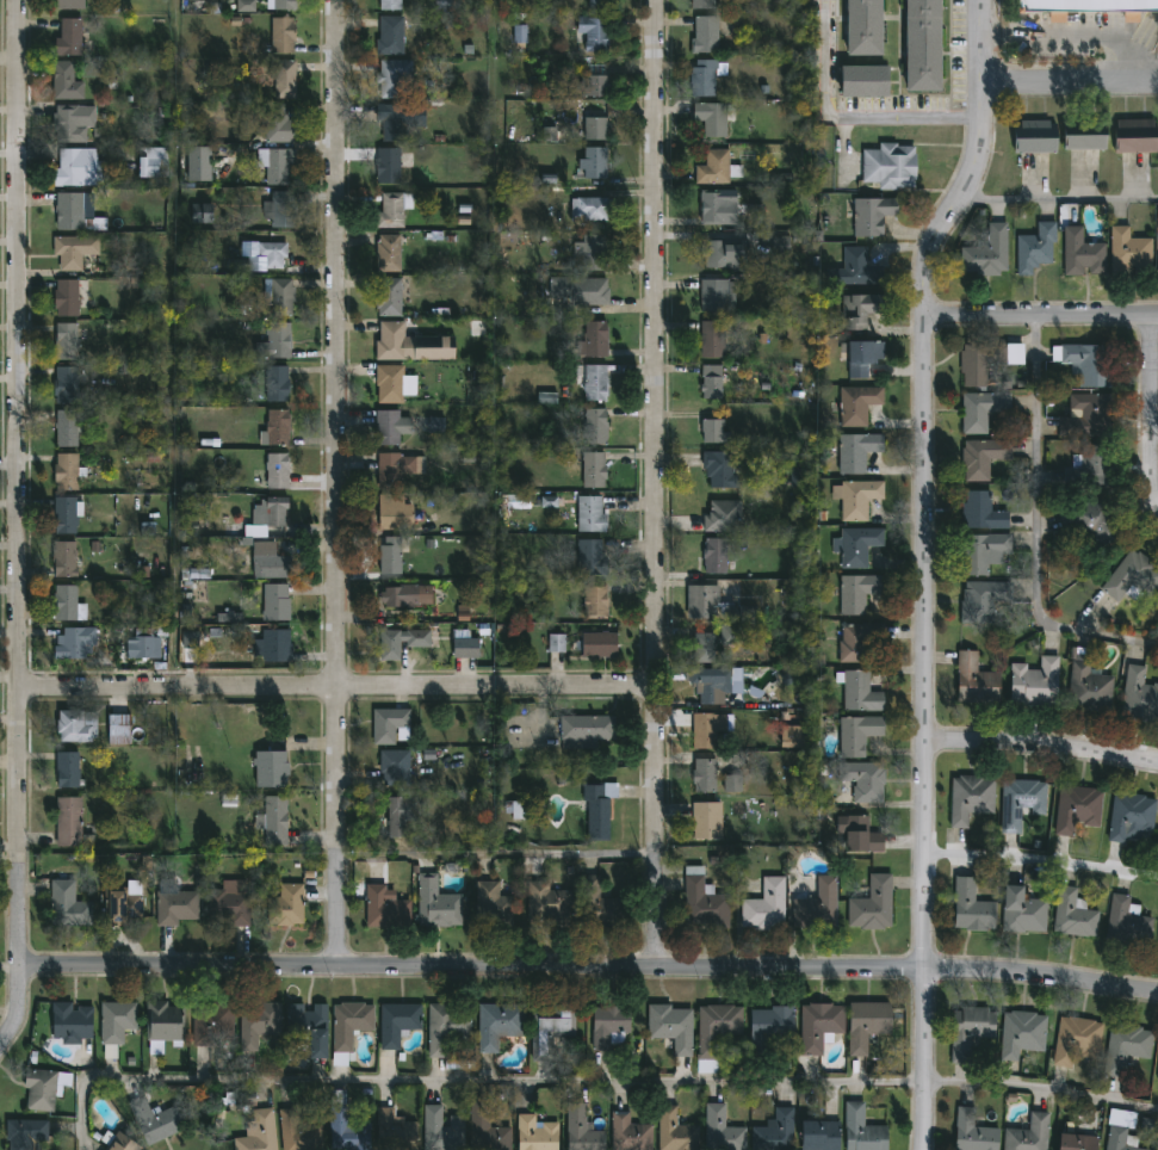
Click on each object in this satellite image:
building: (446, 4)
building: (593, 4)
building: (74, 5)
building: (284, 5)
building: (394, 5)
building: (603, 5)
building: (706, 5)
building: (1091, 5)
building: (246, 6)
building: (856, 27)
building: (597, 33)
building: (520, 35)
building: (708, 35)
building: (284, 36)
road: (1078, 36)
building: (394, 37)
building: (73, 38)
building: (917, 47)
building: (705, 76)
building: (286, 79)
building: (396, 79)
building: (68, 81)
building: (599, 81)
building: (859, 84)
road: (1070, 85)
road: (848, 112)
building: (711, 116)
building: (400, 120)
building: (73, 124)
building: (278, 124)
building: (600, 126)
building: (549, 134)
building: (1079, 134)
building: (1030, 135)
building: (1131, 135)
building: (155, 161)
building: (596, 162)
building: (279, 163)
building: (203, 165)
building: (391, 165)
building: (886, 165)
building: (81, 167)
building: (714, 167)
road: (1059, 198)
building: (286, 206)
building: (595, 206)
building: (714, 206)
building: (396, 209)
building: (74, 210)
building: (202, 212)
building: (869, 214)
building: (781, 246)
building: (1033, 247)
building: (76, 249)
building: (391, 252)
building: (592, 252)
building: (723, 252)
building: (1079, 252)
building: (1127, 252)
building: (275, 253)
building: (985, 253)
building: (1157, 261)
building: (853, 268)
building: (584, 290)
building: (717, 293)
building: (284, 296)
building: (392, 296)
building: (68, 297)
building: (856, 308)
road: (1041, 316)
building: (716, 338)
building: (280, 339)
building: (596, 339)
building: (69, 340)
building: (414, 344)
building: (859, 357)
building: (981, 360)
building: (1085, 361)
building: (594, 379)
building: (716, 381)
building: (279, 383)
building: (397, 383)
building: (68, 384)
building: (855, 403)
building: (978, 409)
building: (1084, 415)
road: (1151, 418)
building: (436, 426)
building: (597, 426)
building: (72, 427)
building: (280, 427)
building: (391, 427)
road: (1154, 427)
building: (710, 429)
building: (854, 450)
building: (979, 457)
building: (1091, 463)
building: (280, 469)
building: (397, 469)
building: (596, 469)
building: (716, 469)
building: (69, 471)
road: (342, 482)
road: (651, 483)
building: (856, 497)
building: (519, 501)
building: (549, 501)
building: (979, 511)
building: (398, 512)
building: (594, 513)
building: (69, 514)
building: (271, 514)
building: (723, 517)
building: (1088, 523)
road: (17, 524)
road: (1035, 528)
building: (853, 544)
building: (980, 551)
building: (394, 555)
building: (712, 555)
building: (593, 556)
building: (67, 558)
building: (271, 561)
road: (925, 567)
building: (1131, 576)
building: (855, 592)
building: (410, 594)
building: (980, 600)
building: (272, 601)
building: (599, 601)
building: (710, 601)
building: (70, 604)
building: (730, 636)
building: (856, 639)
building: (76, 642)
building: (421, 643)
building: (557, 643)
building: (603, 644)
building: (275, 645)
building: (147, 647)
building: (469, 647)
building: (707, 648)
building: (972, 680)
building: (1033, 682)
building: (1085, 682)
building: (714, 684)
road: (340, 685)
building: (856, 691)
building: (1138, 692)
building: (391, 724)
building: (78, 725)
building: (124, 729)
building: (589, 730)
building: (713, 730)
building: (854, 734)
road: (1044, 747)
building: (398, 767)
building: (274, 768)
building: (69, 769)
building: (707, 775)
building: (860, 781)
building: (732, 784)
building: (967, 798)
building: (1017, 800)
building: (462, 805)
building: (601, 808)
building: (1075, 809)
building: (519, 811)
building: (404, 814)
building: (1128, 816)
building: (277, 820)
building: (710, 821)
building: (73, 822)
building: (857, 836)
road: (502, 852)
road: (1044, 858)
building: (707, 901)
building: (234, 903)
building: (440, 904)
building: (550, 904)
building: (816, 904)
building: (871, 904)
building: (70, 905)
building: (178, 905)
building: (289, 905)
building: (495, 905)
building: (601, 905)
building: (766, 905)
building: (124, 907)
building: (388, 908)
building: (968, 908)
building: (1020, 911)
building: (1071, 913)
building: (1126, 923)
building: (1157, 945)
road: (590, 969)
building: (74, 1022)
building: (215, 1022)
building: (401, 1022)
building: (261, 1024)
building: (353, 1024)
building: (118, 1025)
building: (167, 1025)
building: (502, 1025)
building: (613, 1025)
building: (774, 1025)
building: (867, 1025)
building: (674, 1026)
building: (823, 1026)
building: (312, 1028)
building: (450, 1028)
building: (553, 1030)
building: (967, 1030)
building: (719, 1033)
building: (1020, 1034)
building: (1075, 1039)
building: (1123, 1047)
building: (1157, 1075)
road: (470, 1078)
road: (1042, 1087)
building: (47, 1088)
building: (159, 1120)
building: (489, 1127)
building: (586, 1130)
building: (725, 1130)
building: (863, 1130)
building: (260, 1131)
building: (351, 1131)
building: (446, 1131)
building: (679, 1131)
building: (1119, 1131)
building: (301, 1132)
building: (398, 1132)
building: (778, 1132)
building: (971, 1132)
building: (27, 1133)
building: (540, 1133)
building: (632, 1133)
building: (1026, 1133)
building: (825, 1136)
building: (1071, 1139)
building: (117, 1142)

